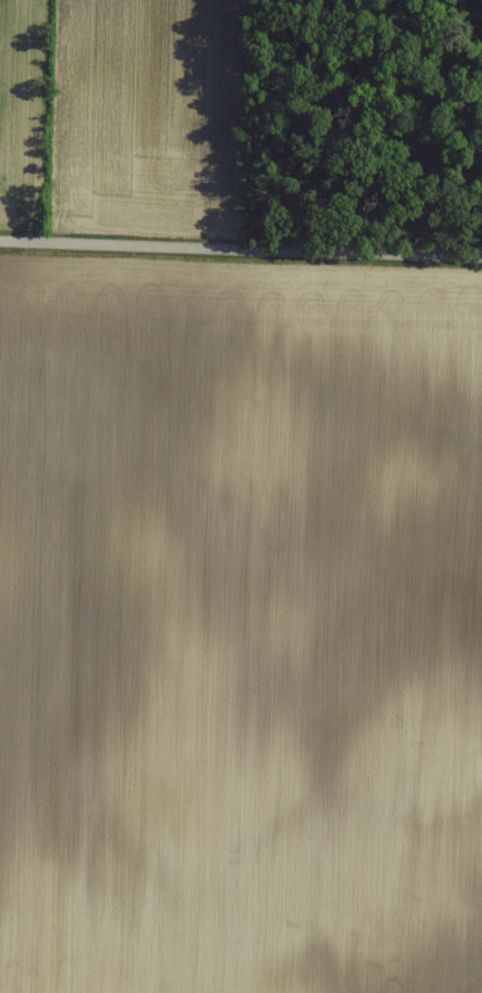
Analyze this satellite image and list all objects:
road: (241, 248)

